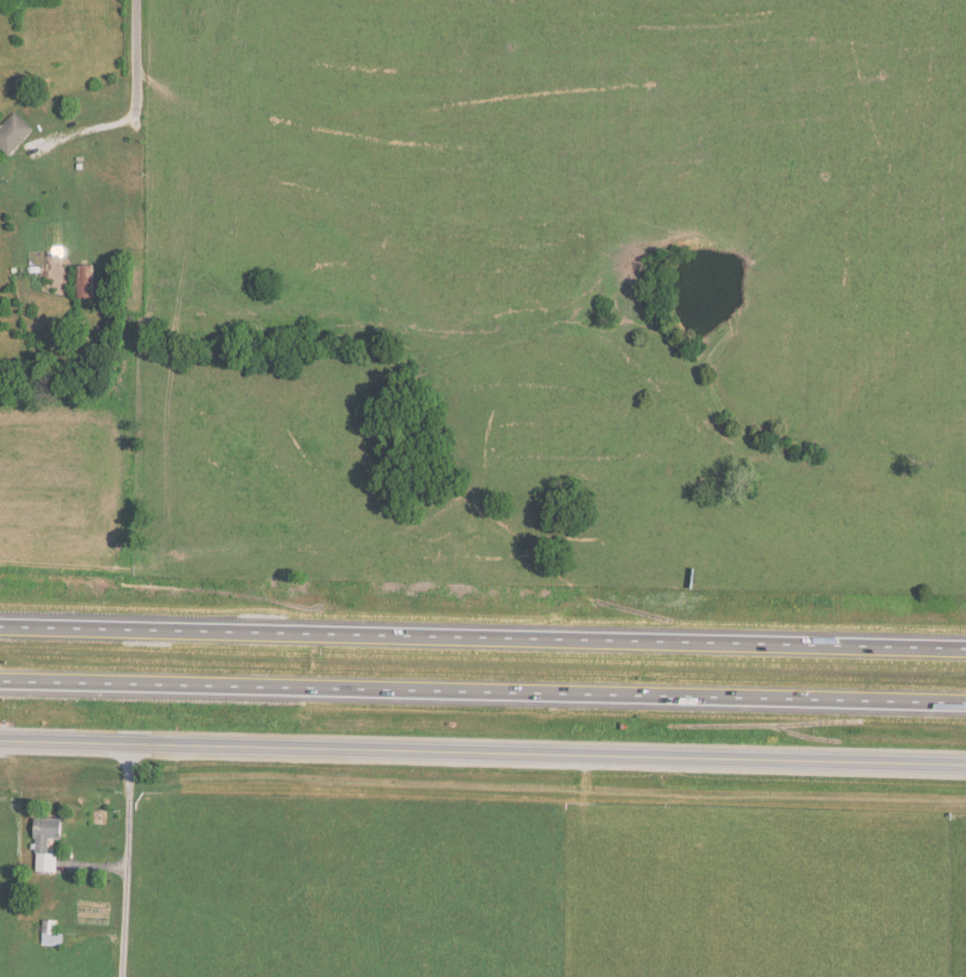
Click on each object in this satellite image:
road: (135, 113)
building: (13, 132)
building: (84, 280)
road: (482, 636)
road: (483, 692)
road: (483, 752)
building: (48, 832)
road: (124, 859)
building: (50, 932)

